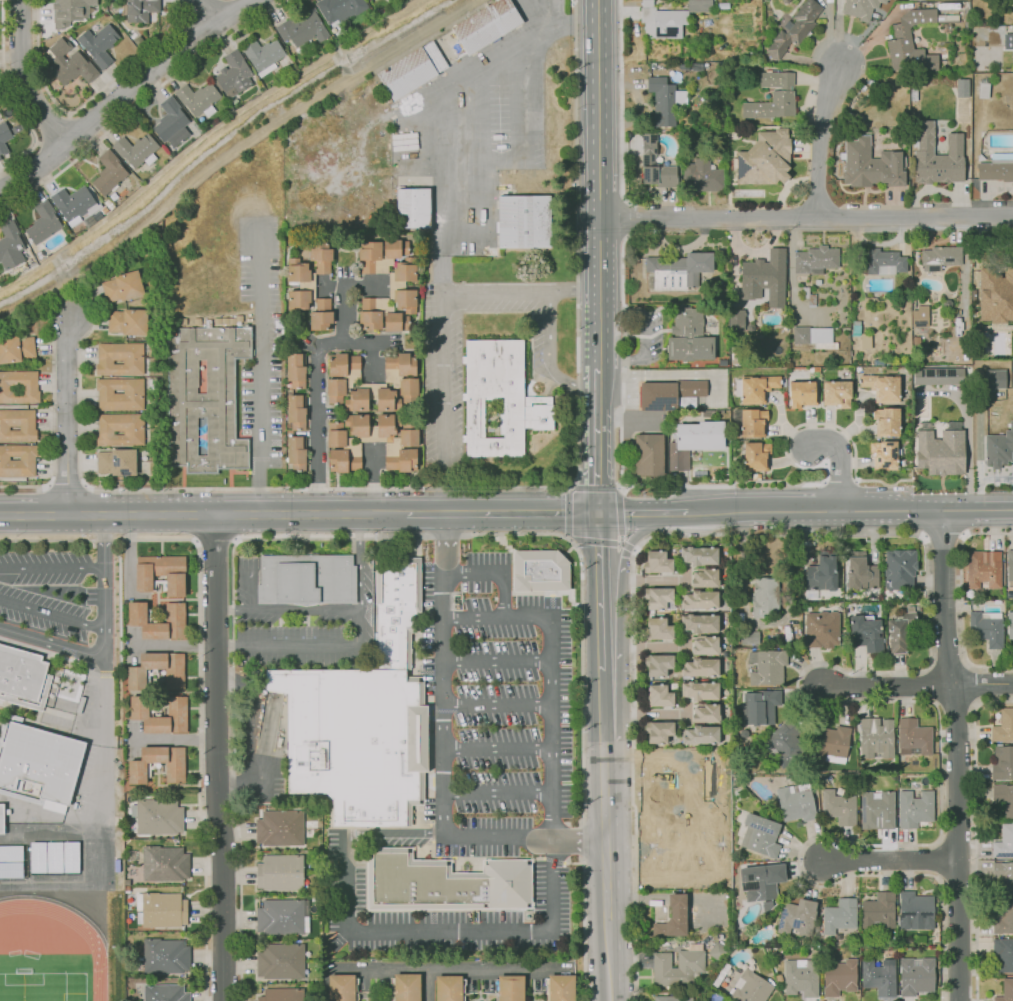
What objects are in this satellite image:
building: (785, 1)
building: (340, 8)
building: (861, 8)
building: (141, 9)
building: (70, 11)
building: (979, 12)
road: (202, 13)
building: (875, 15)
building: (669, 18)
building: (981, 22)
building: (485, 24)
building: (967, 26)
building: (303, 28)
building: (795, 28)
building: (901, 40)
building: (1008, 41)
building: (99, 44)
building: (728, 52)
building: (264, 56)
building: (69, 63)
building: (765, 64)
building: (411, 69)
building: (663, 69)
building: (234, 74)
road: (24, 78)
building: (963, 88)
building: (984, 89)
road: (427, 93)
road: (126, 94)
road: (12, 97)
building: (773, 97)
building: (199, 98)
building: (665, 100)
road: (142, 101)
road: (85, 103)
building: (172, 123)
road: (53, 126)
building: (16, 129)
road: (81, 129)
building: (753, 130)
road: (823, 136)
building: (4, 137)
building: (769, 144)
building: (501, 149)
building: (137, 150)
road: (231, 151)
building: (937, 156)
building: (981, 157)
building: (0, 158)
road: (39, 164)
parking lot: (347, 165)
building: (656, 165)
building: (871, 165)
building: (997, 167)
building: (109, 172)
building: (758, 173)
building: (704, 175)
road: (598, 184)
building: (75, 204)
building: (109, 204)
building: (412, 207)
building: (104, 210)
road: (806, 217)
building: (89, 221)
building: (44, 222)
building: (10, 246)
building: (381, 255)
building: (38, 256)
building: (321, 256)
building: (937, 258)
building: (815, 259)
building: (885, 262)
road: (963, 269)
building: (679, 270)
building: (766, 273)
building: (994, 275)
building: (723, 280)
building: (818, 282)
building: (300, 284)
building: (397, 285)
building: (123, 286)
road: (361, 290)
road: (521, 290)
building: (809, 297)
building: (947, 304)
building: (826, 309)
building: (321, 315)
road: (343, 315)
building: (382, 315)
building: (786, 316)
building: (795, 317)
building: (921, 320)
building: (128, 321)
road: (649, 335)
building: (861, 335)
building: (689, 336)
building: (815, 337)
building: (16, 349)
building: (774, 351)
building: (736, 352)
road: (550, 355)
building: (120, 358)
road: (260, 365)
building: (296, 369)
building: (342, 375)
building: (403, 375)
building: (940, 376)
building: (994, 376)
road: (317, 384)
building: (19, 386)
building: (882, 387)
building: (758, 388)
building: (120, 393)
building: (803, 393)
building: (837, 393)
building: (671, 394)
building: (206, 397)
building: (373, 398)
building: (500, 398)
building: (920, 398)
road: (444, 403)
building: (296, 411)
building: (710, 412)
road: (67, 416)
building: (751, 421)
building: (887, 421)
parking lot: (442, 424)
road: (828, 424)
building: (957, 424)
building: (17, 425)
building: (120, 429)
building: (389, 437)
road: (596, 441)
building: (695, 441)
building: (342, 449)
building: (998, 450)
building: (297, 452)
building: (649, 454)
building: (885, 454)
building: (756, 456)
building: (940, 458)
building: (17, 460)
building: (117, 462)
road: (841, 462)
building: (906, 463)
road: (374, 481)
road: (840, 481)
road: (721, 484)
road: (569, 486)
road: (339, 488)
road: (593, 488)
road: (978, 509)
road: (619, 510)
road: (774, 510)
road: (902, 510)
road: (641, 512)
road: (279, 513)
road: (501, 513)
road: (569, 513)
road: (76, 514)
traffic signals: (596, 514)
road: (358, 526)
road: (507, 534)
road: (215, 539)
road: (620, 539)
road: (569, 540)
road: (593, 540)
road: (98, 541)
road: (619, 543)
road: (441, 544)
road: (627, 547)
road: (634, 550)
building: (699, 555)
building: (657, 562)
road: (52, 565)
building: (1009, 565)
building: (982, 567)
building: (900, 568)
building: (821, 571)
building: (540, 572)
building: (860, 572)
building: (160, 573)
road: (494, 574)
building: (306, 578)
road: (687, 578)
building: (705, 578)
road: (653, 580)
parking lot: (49, 590)
road: (598, 591)
building: (765, 596)
road: (960, 597)
building: (659, 598)
building: (700, 599)
road: (620, 609)
road: (226, 610)
road: (298, 610)
building: (396, 611)
building: (651, 611)
building: (136, 612)
road: (52, 614)
building: (700, 623)
building: (1010, 624)
building: (658, 629)
building: (821, 629)
building: (986, 629)
building: (865, 632)
building: (901, 632)
road: (105, 634)
road: (173, 643)
road: (227, 644)
road: (352, 645)
road: (687, 645)
building: (706, 645)
road: (653, 647)
building: (20, 652)
road: (55, 654)
road: (496, 661)
building: (658, 664)
building: (700, 666)
building: (766, 666)
road: (550, 674)
road: (632, 675)
building: (21, 676)
building: (173, 679)
road: (984, 683)
building: (47, 684)
road: (889, 686)
building: (700, 690)
building: (659, 696)
road: (420, 699)
road: (496, 704)
road: (602, 705)
building: (760, 706)
road: (653, 713)
road: (688, 713)
building: (706, 713)
building: (160, 715)
building: (1003, 726)
building: (659, 731)
building: (701, 734)
building: (913, 736)
road: (176, 737)
building: (876, 737)
building: (1, 740)
building: (354, 741)
building: (830, 742)
building: (787, 744)
road: (497, 748)
road: (956, 754)
road: (219, 757)
road: (443, 760)
building: (40, 761)
parking lot: (481, 761)
road: (106, 762)
building: (1002, 762)
building: (137, 772)
road: (237, 786)
road: (497, 792)
building: (1004, 797)
building: (28, 798)
building: (796, 804)
building: (838, 806)
building: (914, 807)
building: (876, 810)
building: (158, 817)
building: (1, 818)
building: (279, 828)
road: (385, 832)
building: (760, 835)
road: (578, 839)
building: (408, 840)
building: (1003, 842)
building: (54, 856)
road: (890, 859)
building: (10, 860)
building: (165, 863)
road: (605, 871)
building: (280, 873)
road: (583, 873)
building: (1004, 876)
building: (761, 883)
building: (448, 884)
road: (637, 898)
road: (677, 898)
road: (708, 898)
building: (163, 909)
building: (915, 910)
building: (878, 911)
building: (839, 915)
building: (279, 917)
building: (1003, 917)
building: (673, 918)
building: (797, 918)
road: (454, 930)
track: (97, 953)
building: (1003, 954)
building: (165, 955)
building: (280, 960)
building: (676, 968)
building: (915, 975)
building: (879, 976)
building: (800, 977)
building: (838, 977)
building: (406, 986)
building: (340, 987)
building: (448, 987)
building: (509, 987)
building: (560, 987)
building: (751, 987)
building: (1005, 990)
building: (164, 992)
building: (281, 993)
building: (672, 997)

